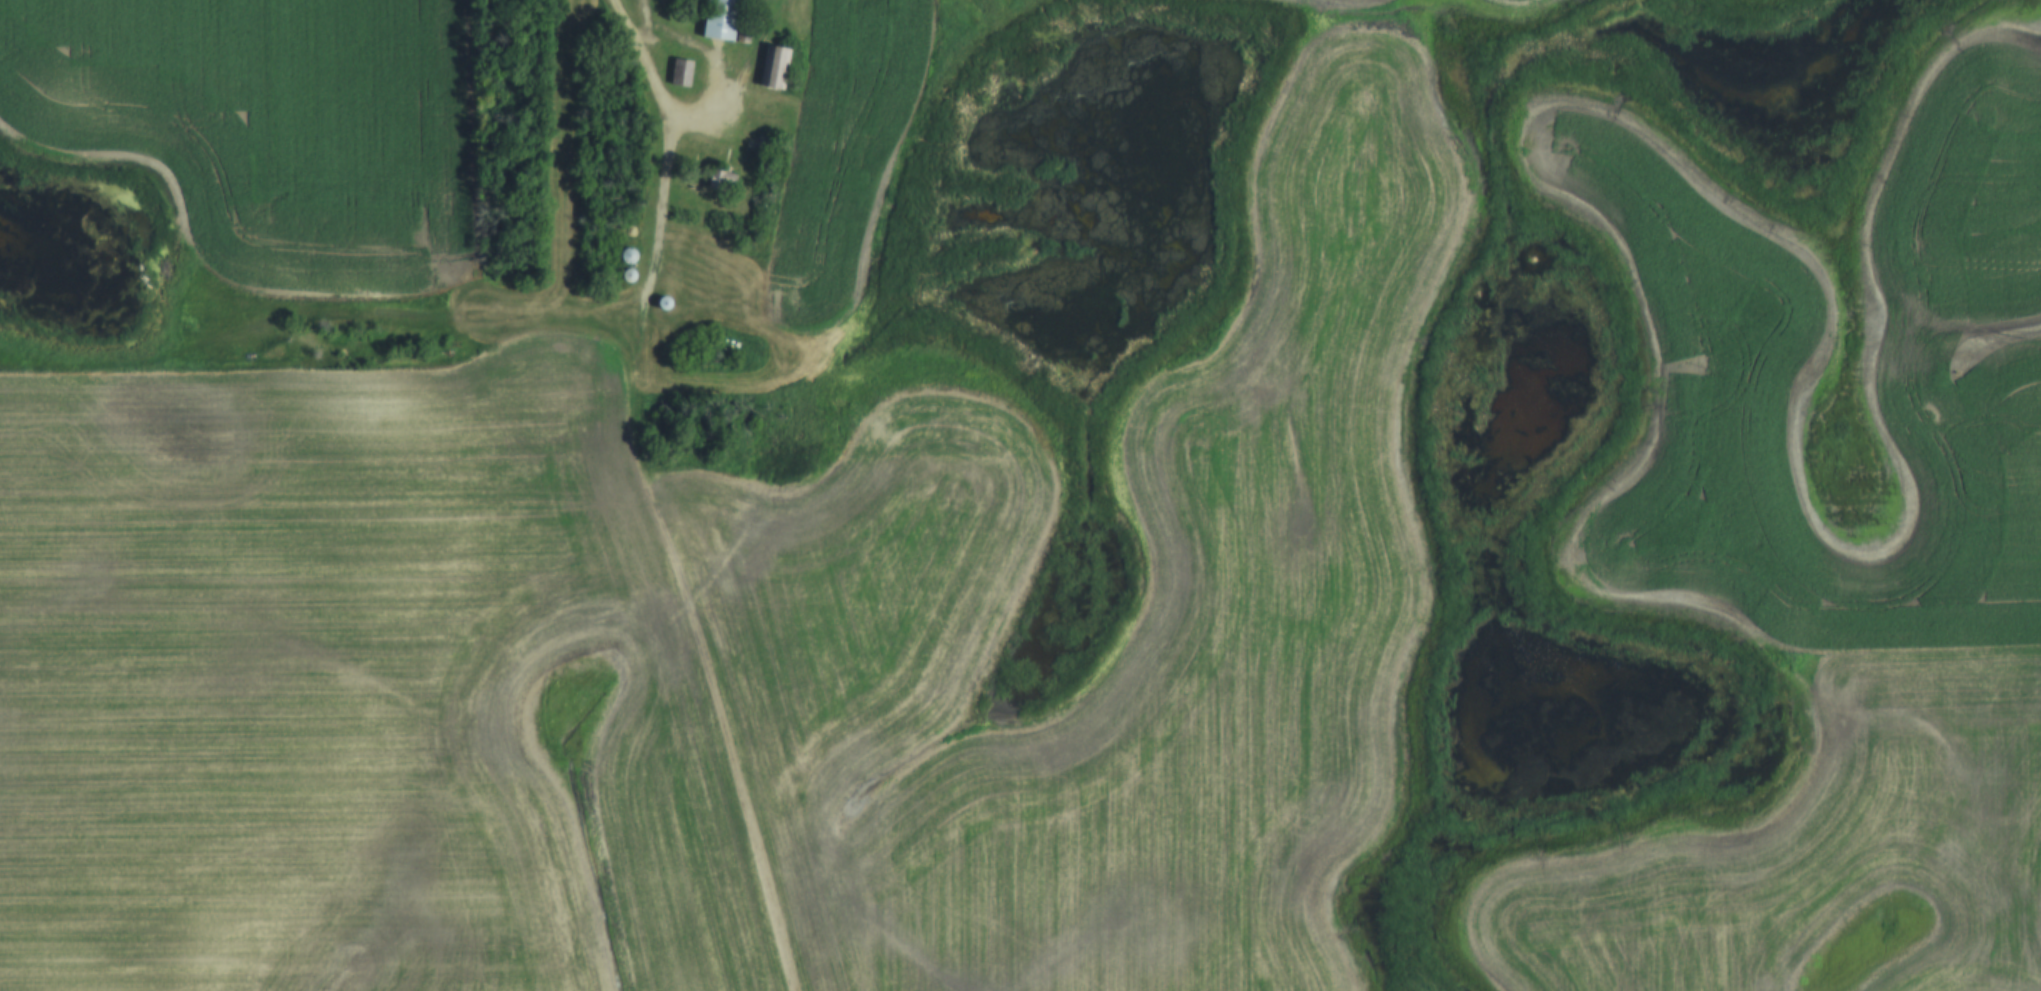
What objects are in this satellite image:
building: (719, 19)
building: (774, 67)
building: (680, 73)
road: (670, 176)
building: (717, 181)
building: (624, 255)
building: (626, 275)
building: (661, 303)

